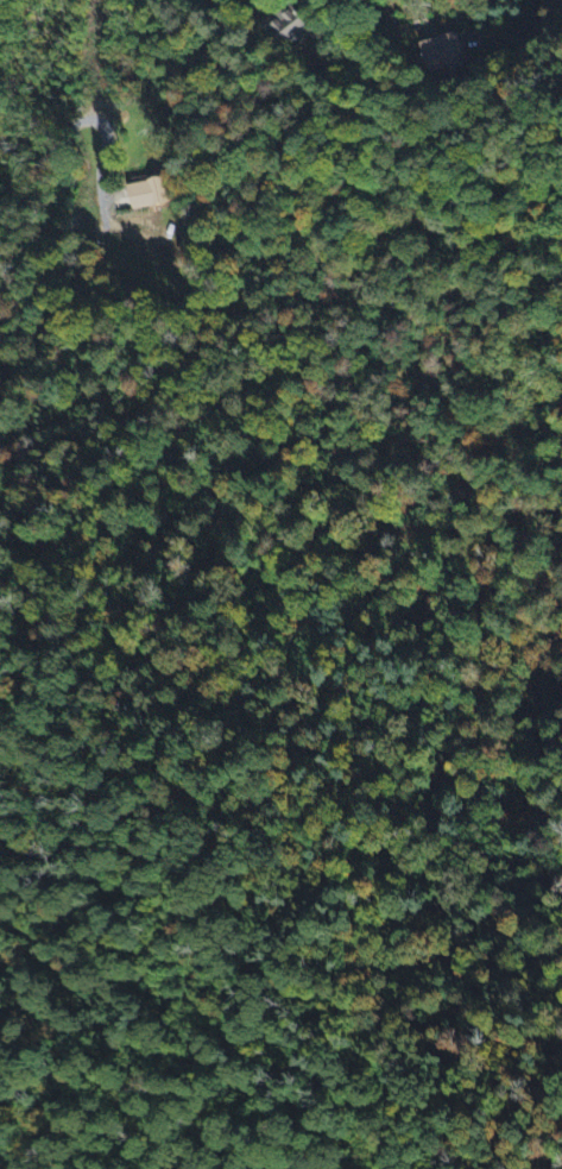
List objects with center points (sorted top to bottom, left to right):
road: (309, 4)
road: (532, 17)
road: (21, 57)
road: (102, 175)
building: (146, 196)

